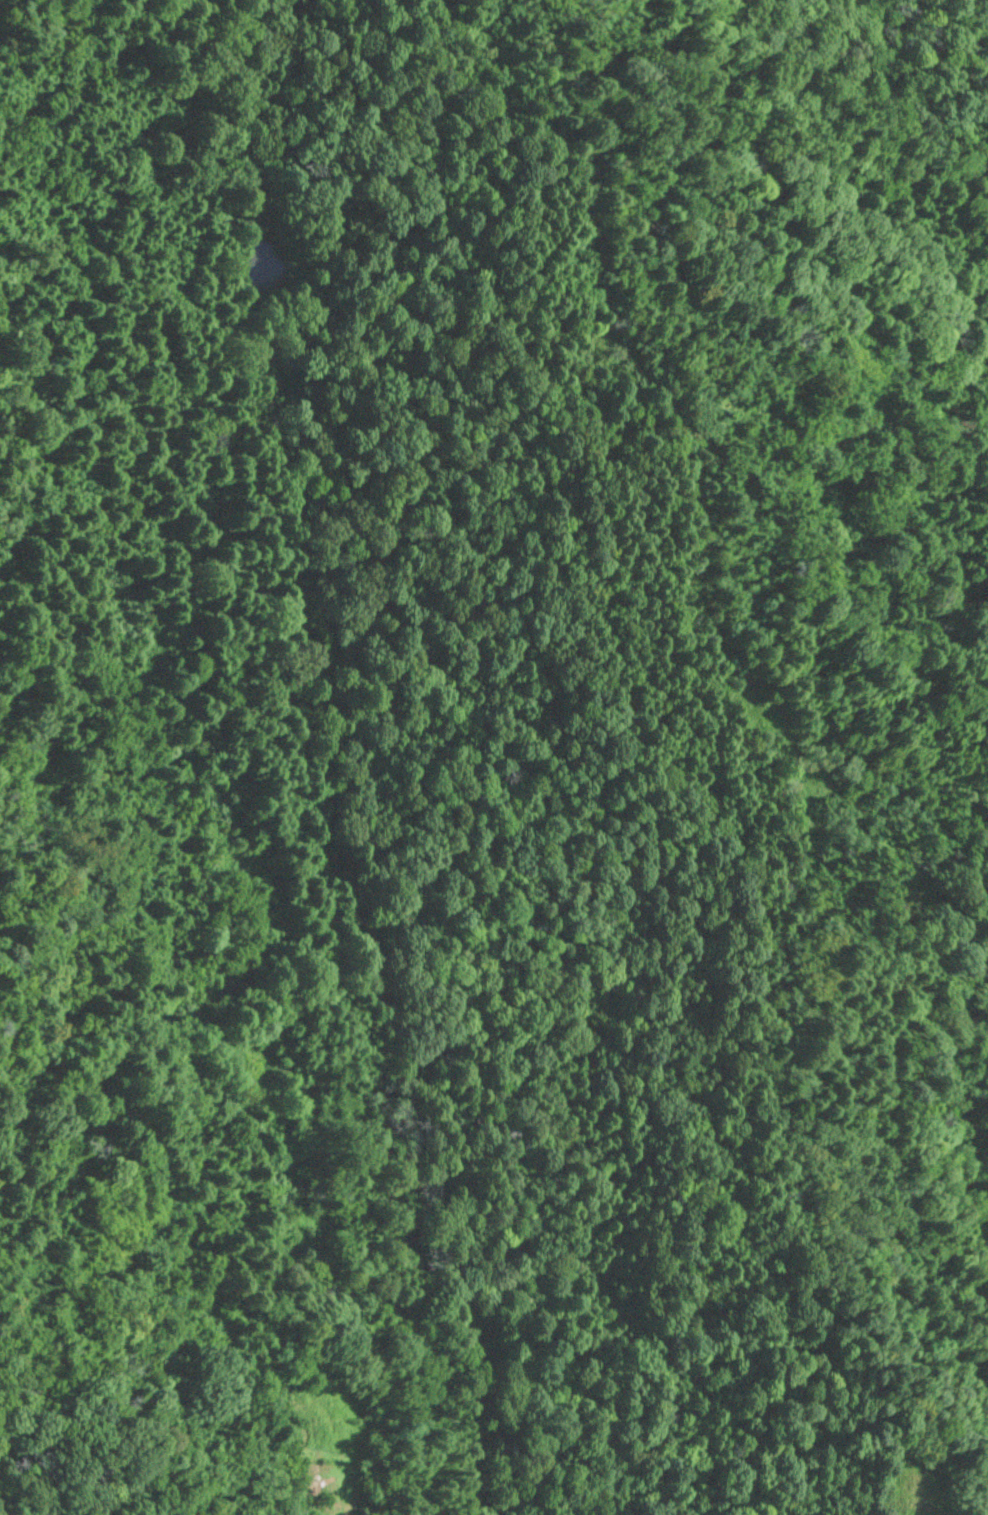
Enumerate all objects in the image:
road: (287, 1477)

